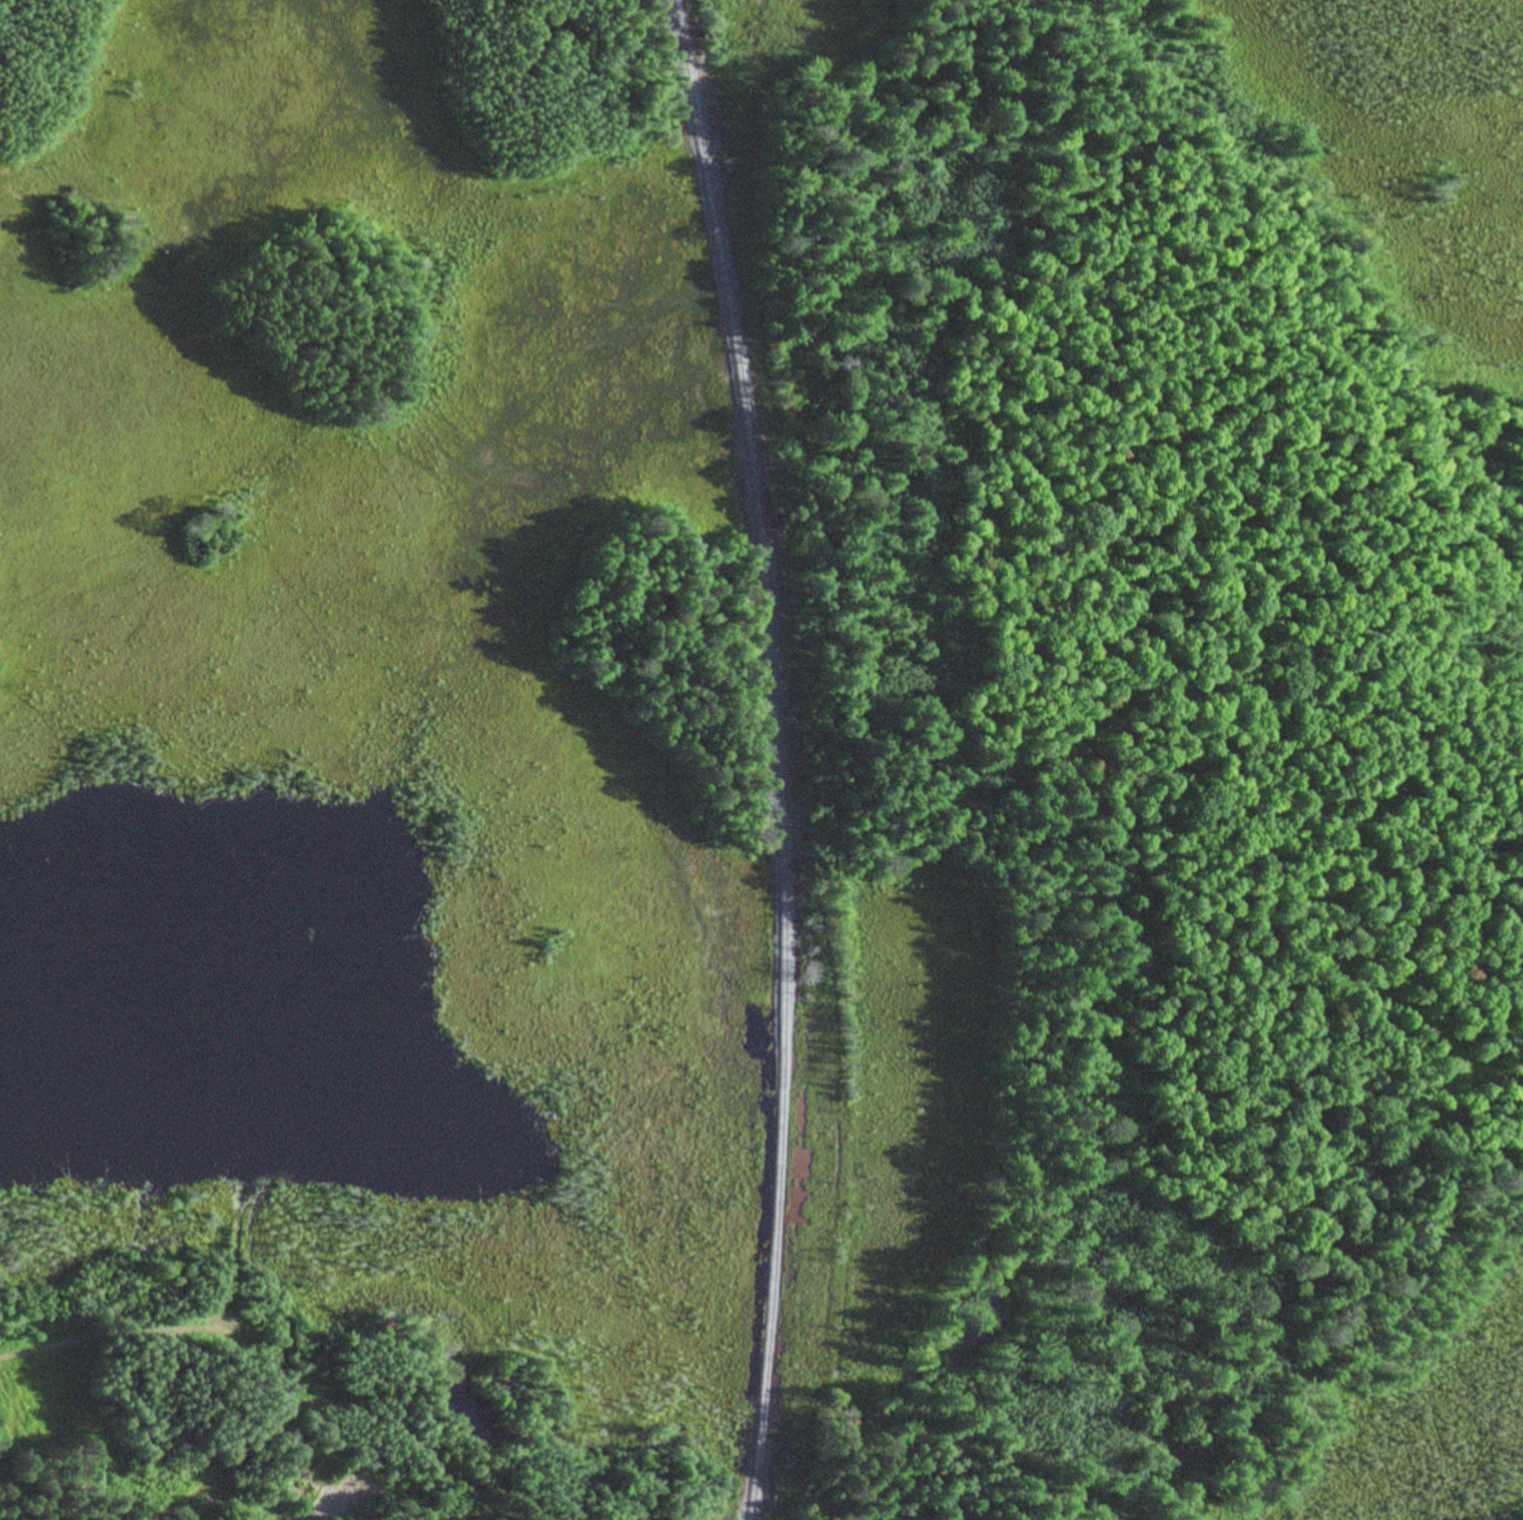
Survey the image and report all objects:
railway: (778, 756)
road: (165, 1330)

